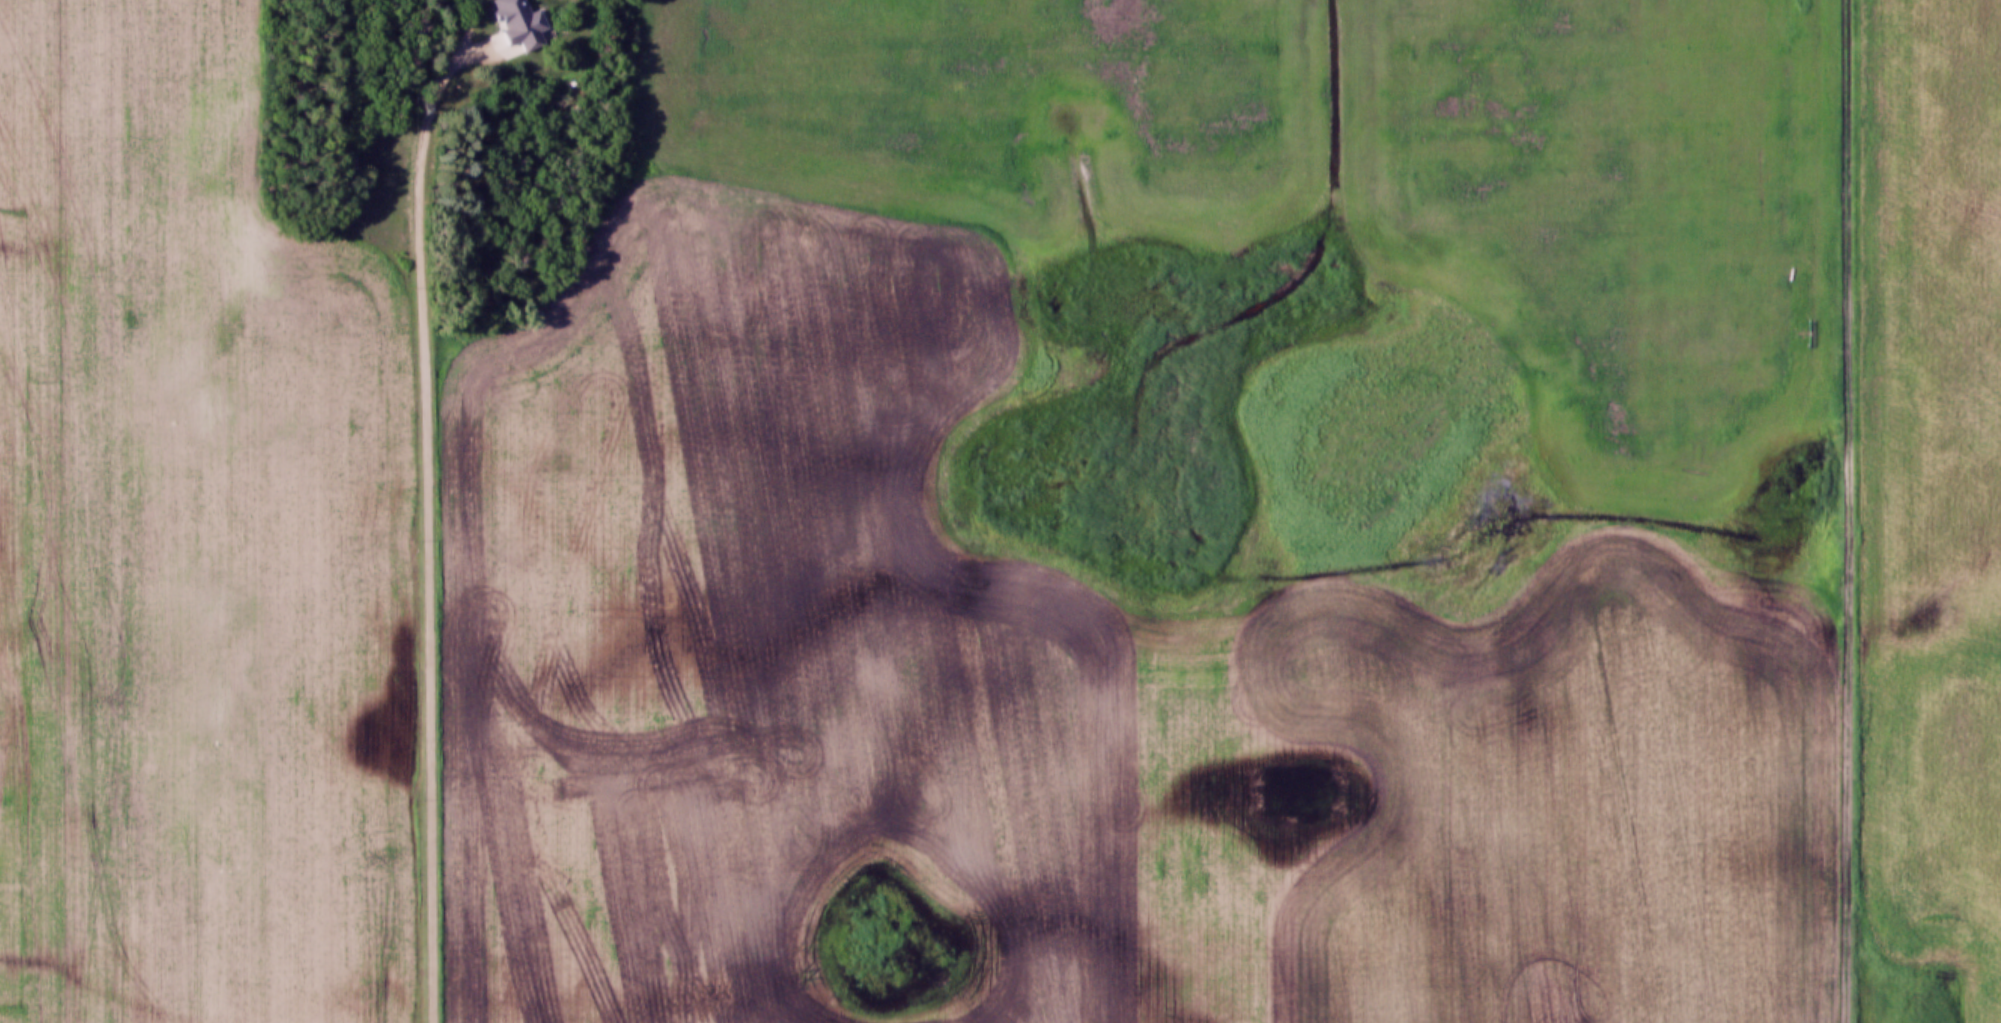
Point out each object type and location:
building: (531, 3)
building: (497, 42)
road: (231, 227)
road: (429, 504)
road: (1848, 511)

